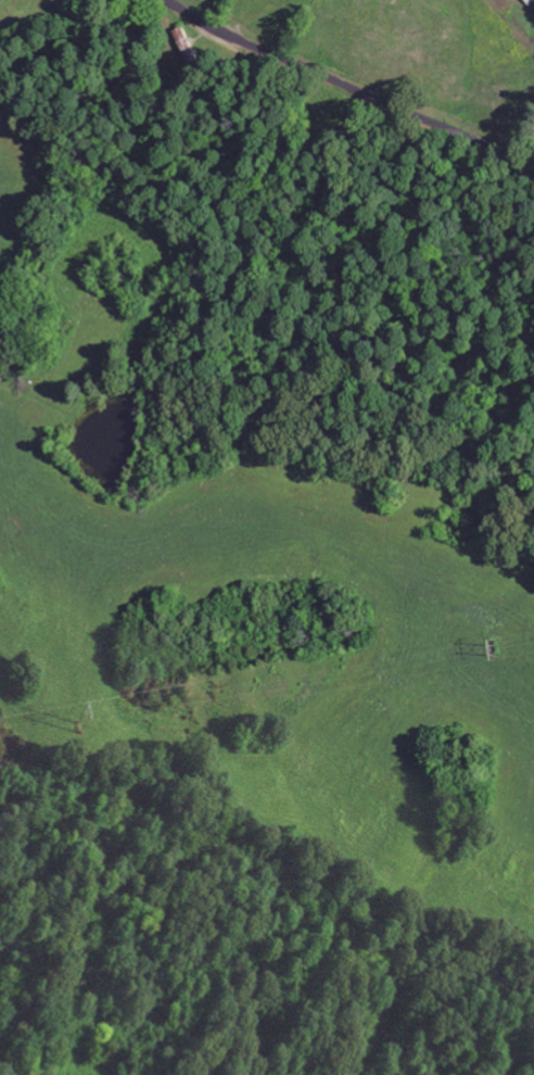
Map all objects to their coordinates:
building: (529, 1)
road: (351, 85)

